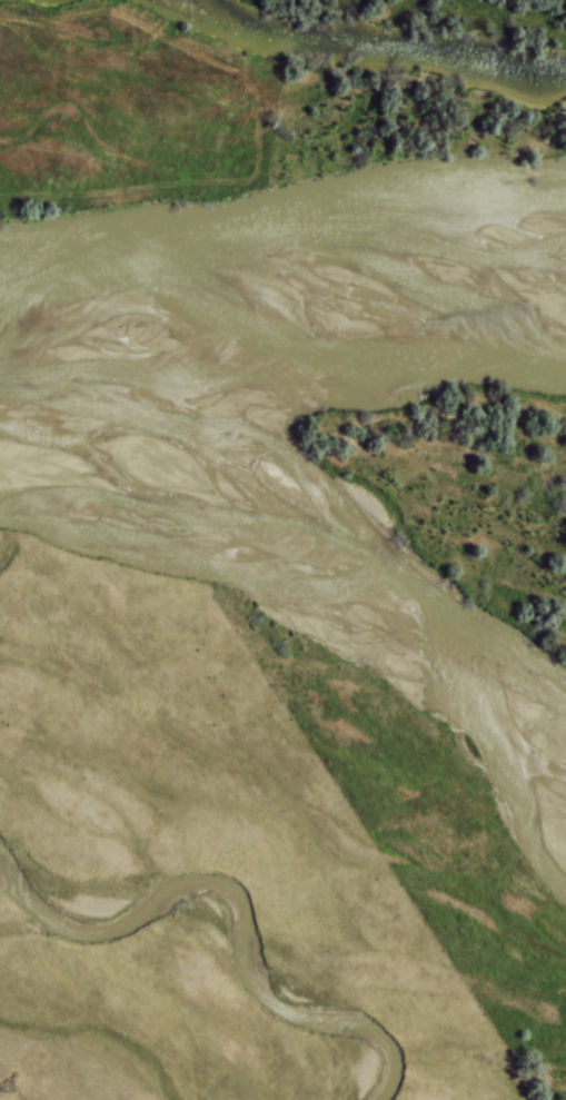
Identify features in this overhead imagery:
river: (290, 556)

